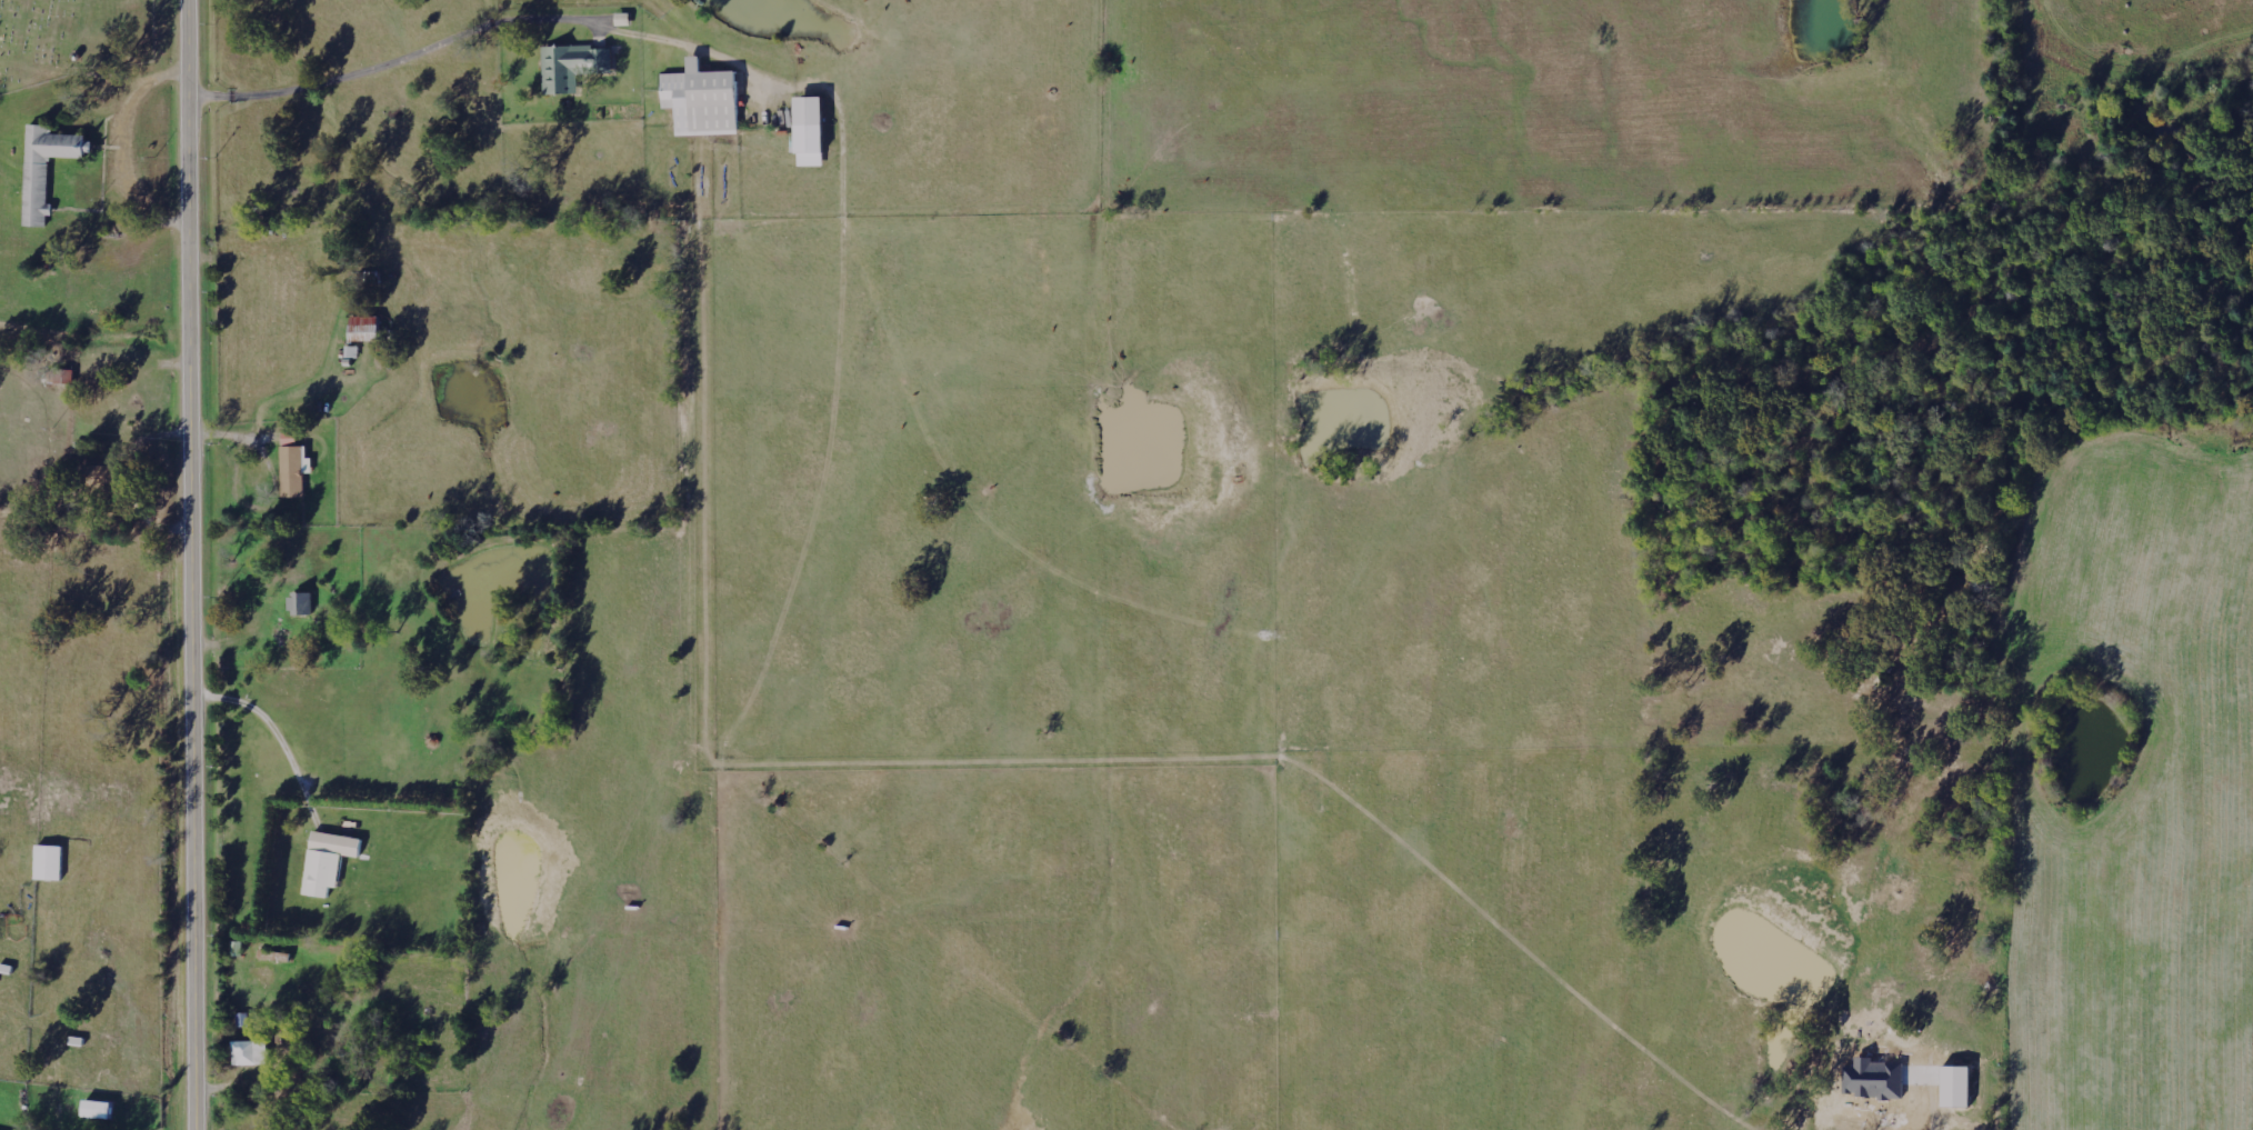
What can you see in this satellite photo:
building: (625, 20)
road: (484, 24)
building: (575, 67)
building: (705, 101)
building: (814, 132)
building: (43, 172)
building: (369, 329)
building: (297, 467)
building: (106, 481)
road: (198, 564)
building: (304, 604)
building: (330, 862)
building: (51, 863)
building: (244, 1020)
building: (252, 1054)

